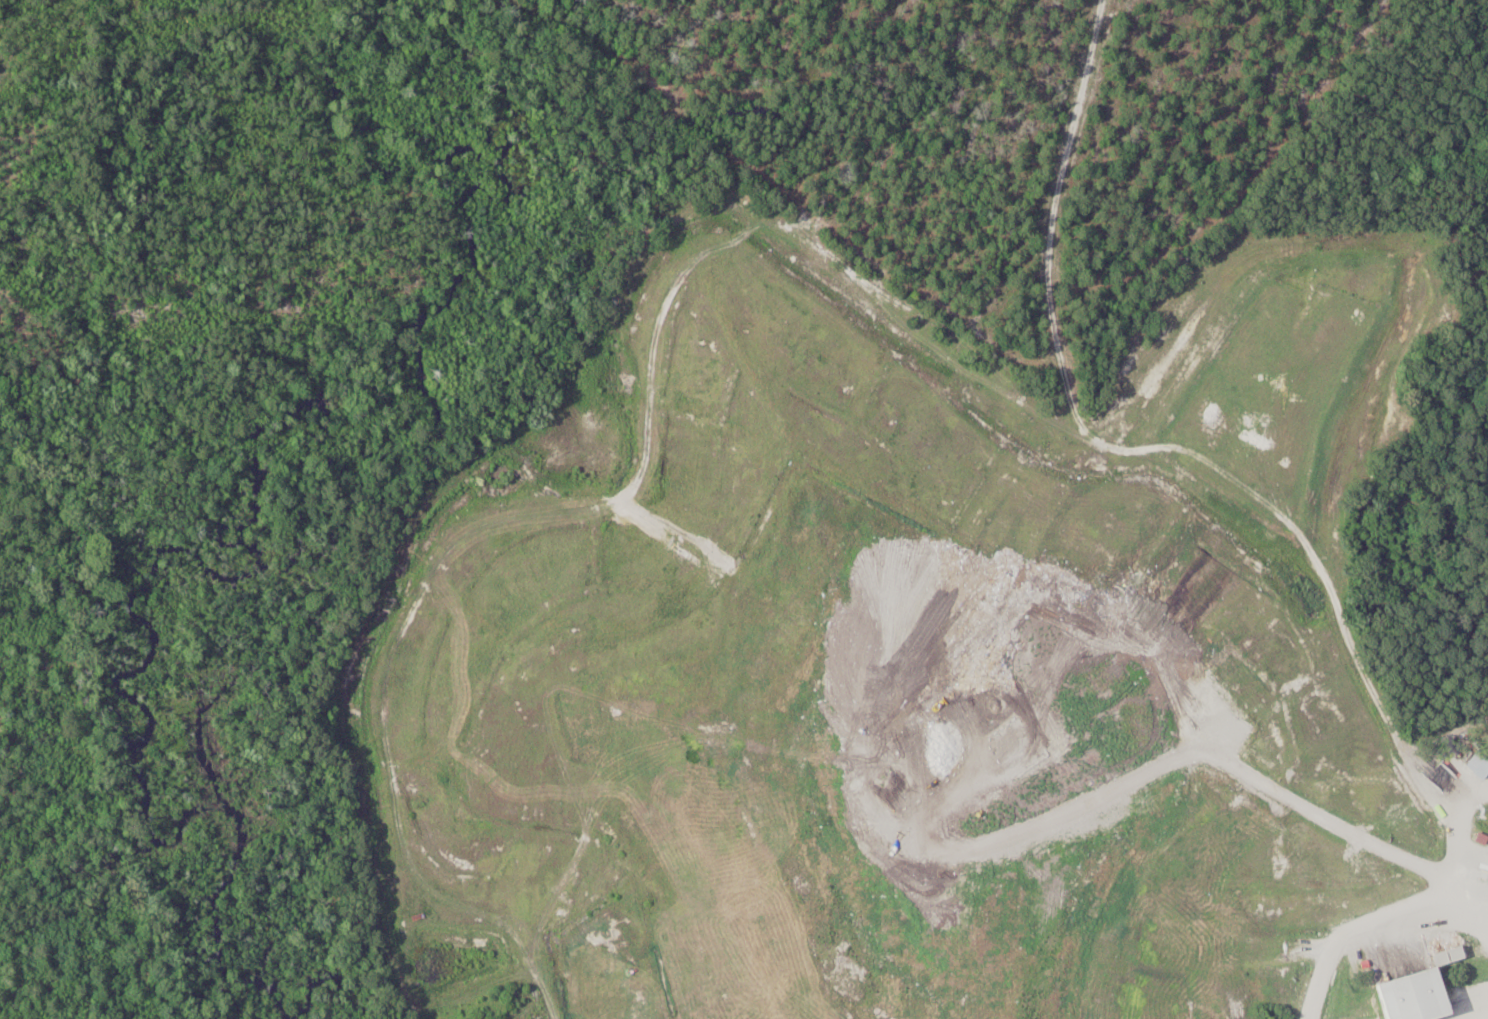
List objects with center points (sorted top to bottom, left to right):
road: (639, 13)
road: (590, 23)
road: (1106, 199)
road: (1125, 729)
building: (1480, 768)
building: (1410, 993)

